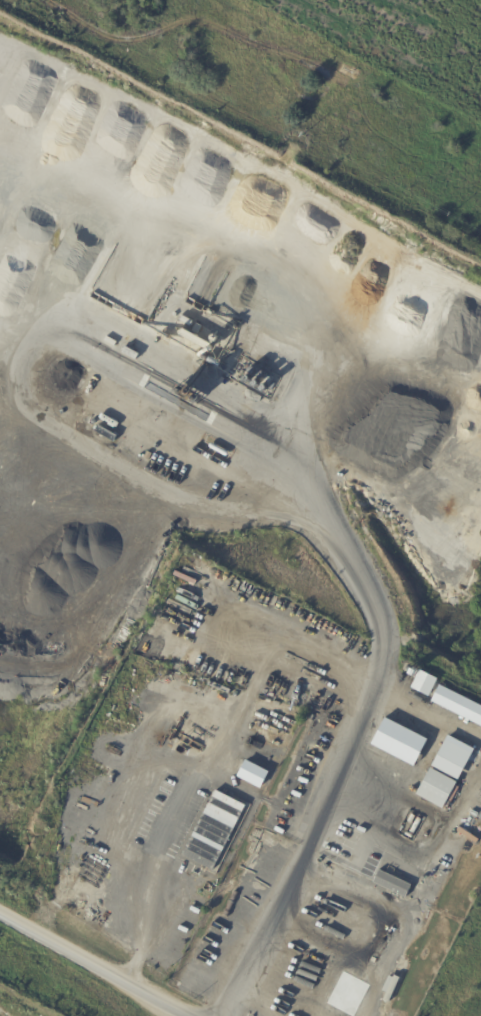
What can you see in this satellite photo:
road: (348, 543)
building: (424, 682)
building: (459, 707)
building: (402, 746)
building: (458, 761)
building: (440, 791)
building: (392, 885)
road: (143, 886)
building: (199, 910)
building: (193, 922)
building: (190, 932)
road: (270, 933)
building: (178, 951)
building: (403, 961)
road: (128, 963)
road: (94, 964)
building: (398, 968)
road: (56, 980)
road: (115, 996)

